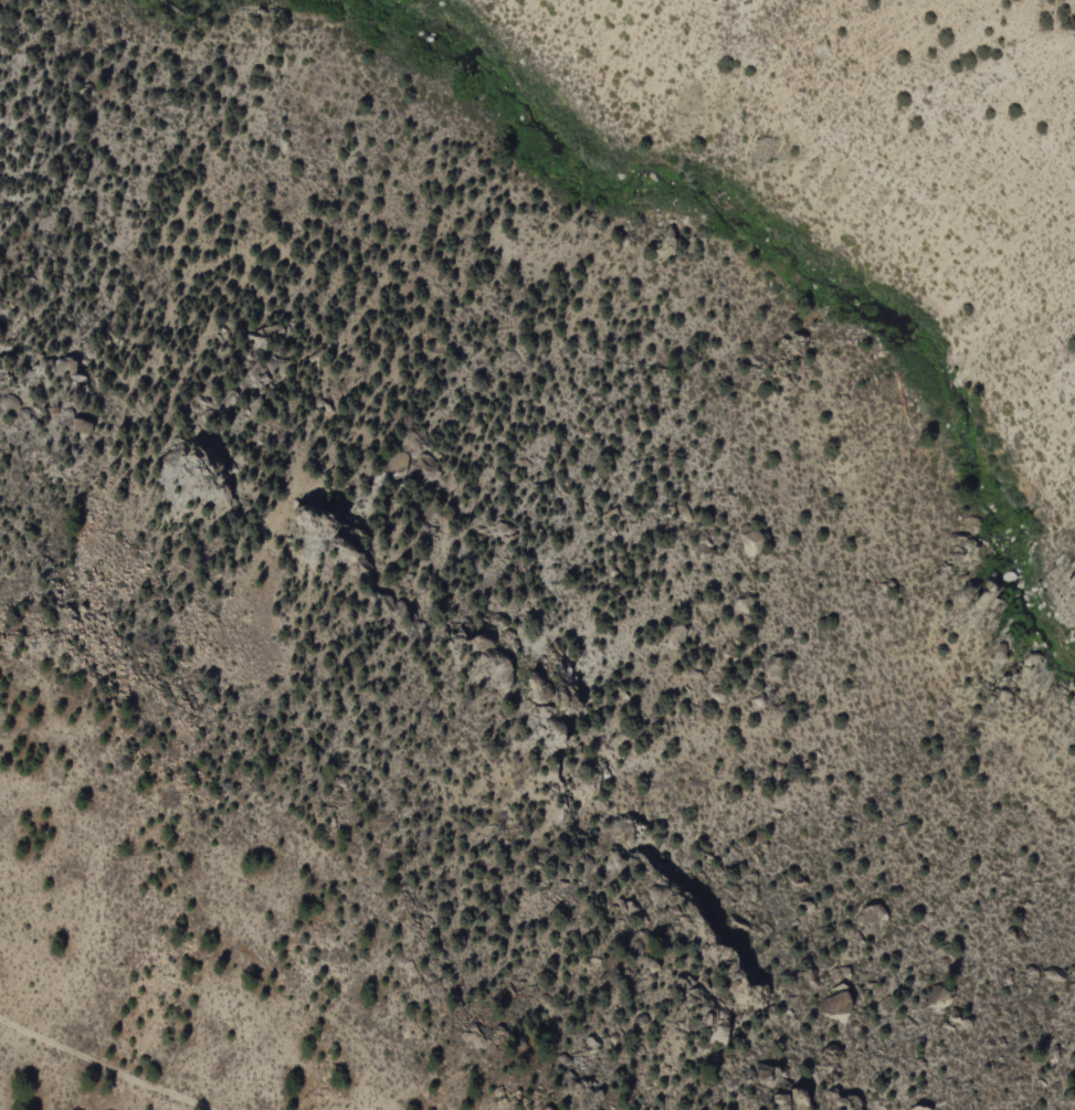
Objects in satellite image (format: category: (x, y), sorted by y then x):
road: (105, 1068)

